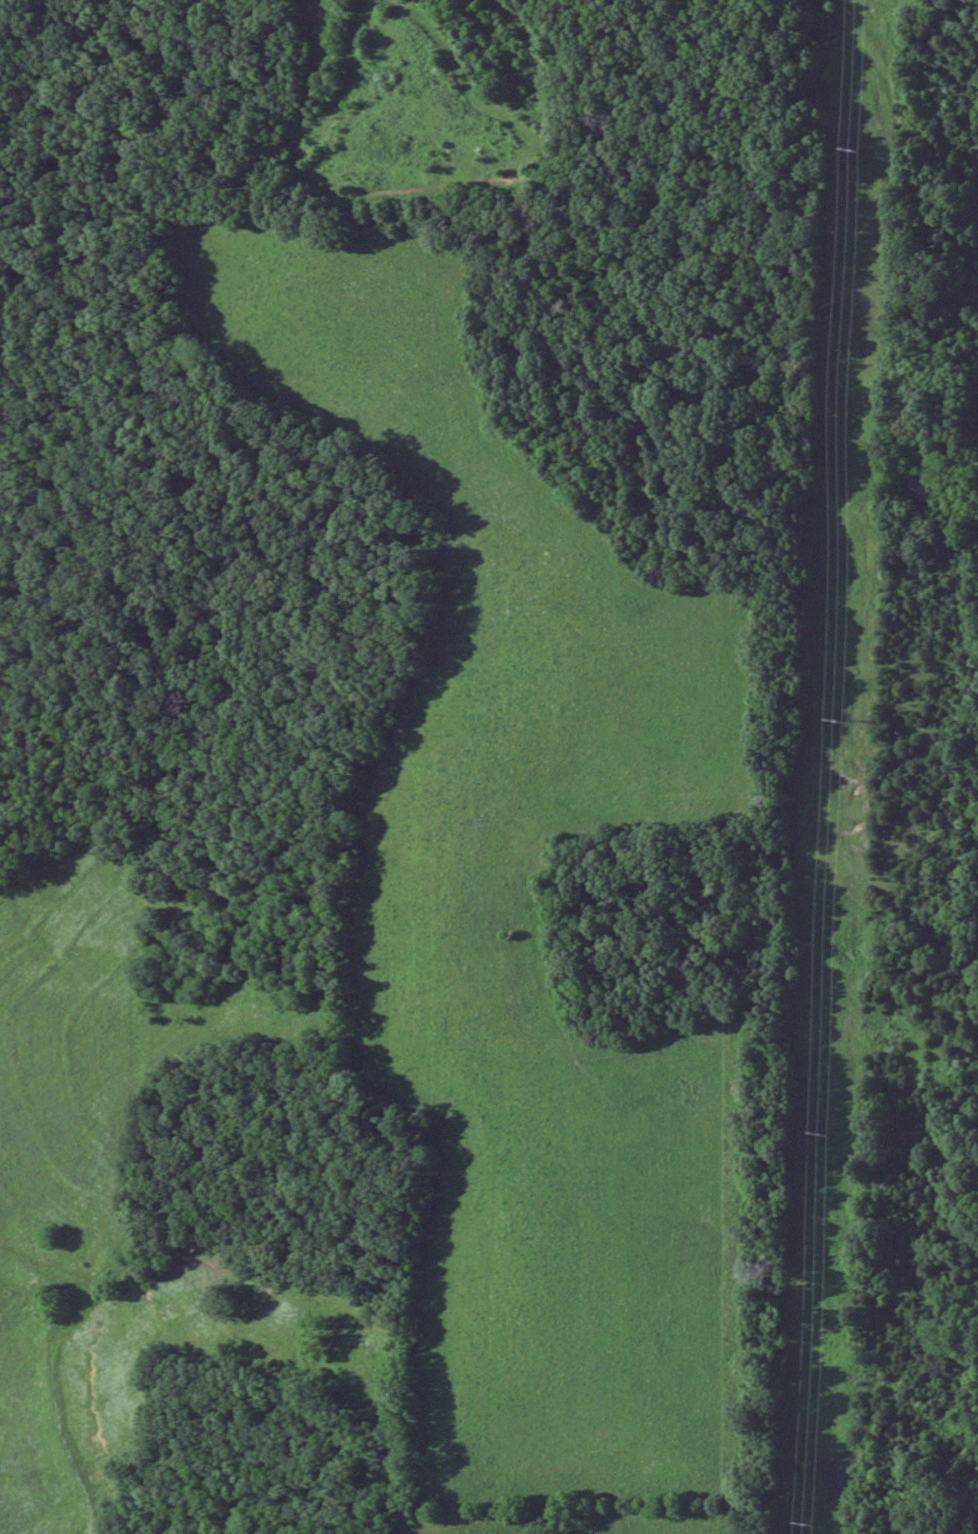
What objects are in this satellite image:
power tower: (851, 144)
power tower: (837, 722)
power tower: (820, 1134)
power tower: (810, 1523)

